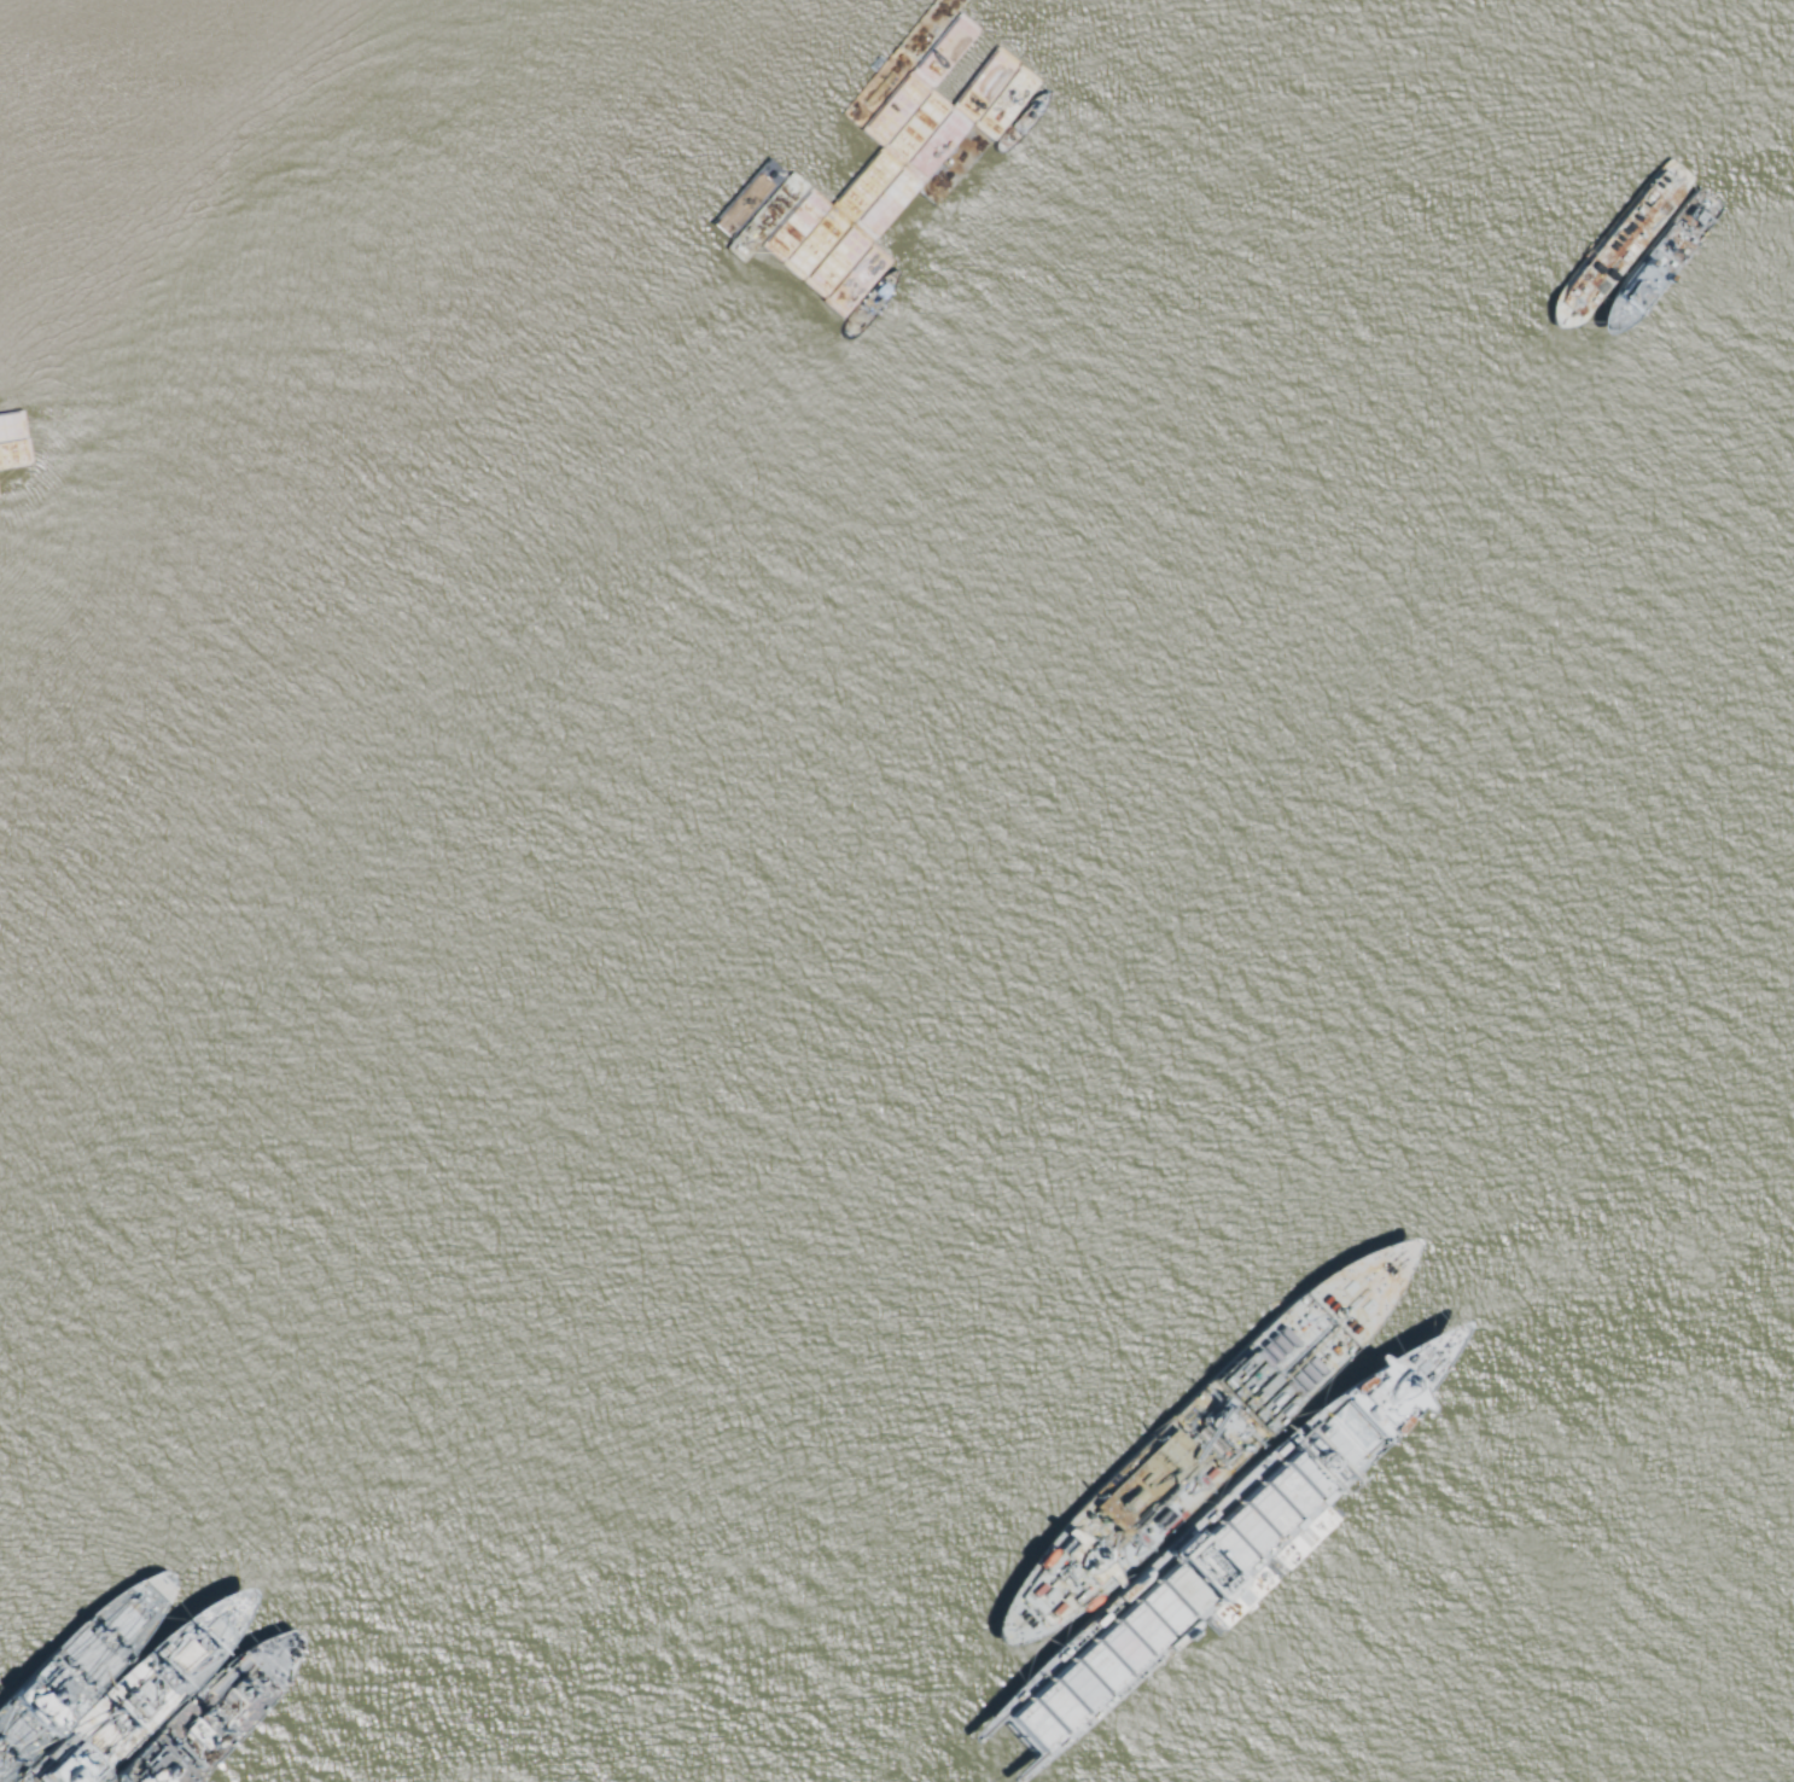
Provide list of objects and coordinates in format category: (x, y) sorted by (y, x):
building: (899, 180)
building: (7, 430)

